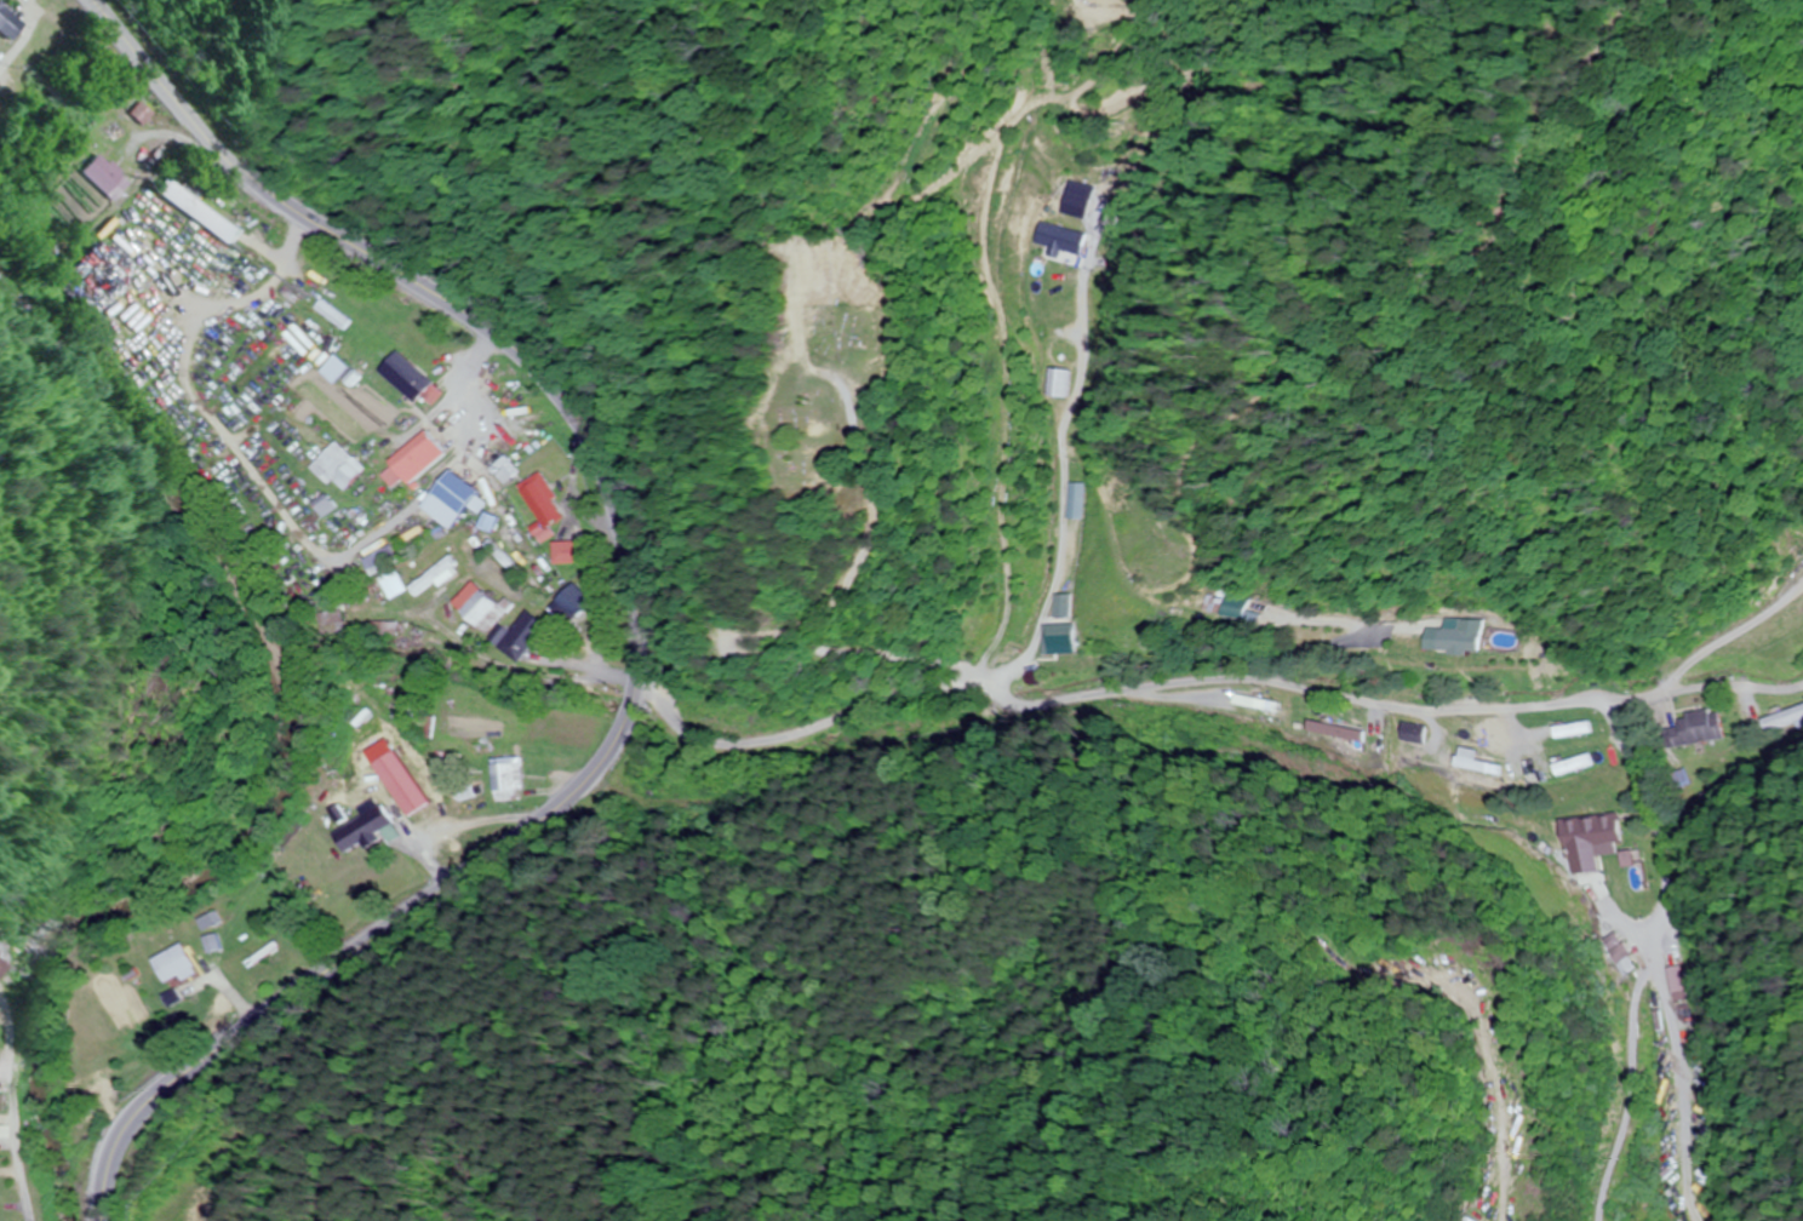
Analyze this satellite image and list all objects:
building: (8, 22)
building: (145, 114)
road: (1621, 145)
building: (105, 176)
building: (196, 211)
road: (1061, 327)
building: (330, 368)
building: (403, 378)
building: (1054, 383)
building: (408, 459)
building: (334, 466)
building: (537, 499)
building: (448, 500)
building: (1071, 500)
building: (565, 551)
building: (383, 572)
building: (569, 600)
building: (1063, 604)
building: (1232, 606)
building: (475, 608)
road: (634, 618)
building: (519, 635)
building: (1456, 637)
building: (1059, 638)
road: (1197, 681)
building: (1698, 729)
building: (1412, 733)
building: (1473, 762)
building: (1574, 764)
building: (503, 779)
building: (368, 824)
building: (1601, 829)
building: (199, 922)
building: (171, 964)
building: (1, 967)
building: (1678, 982)
road: (23, 1048)

